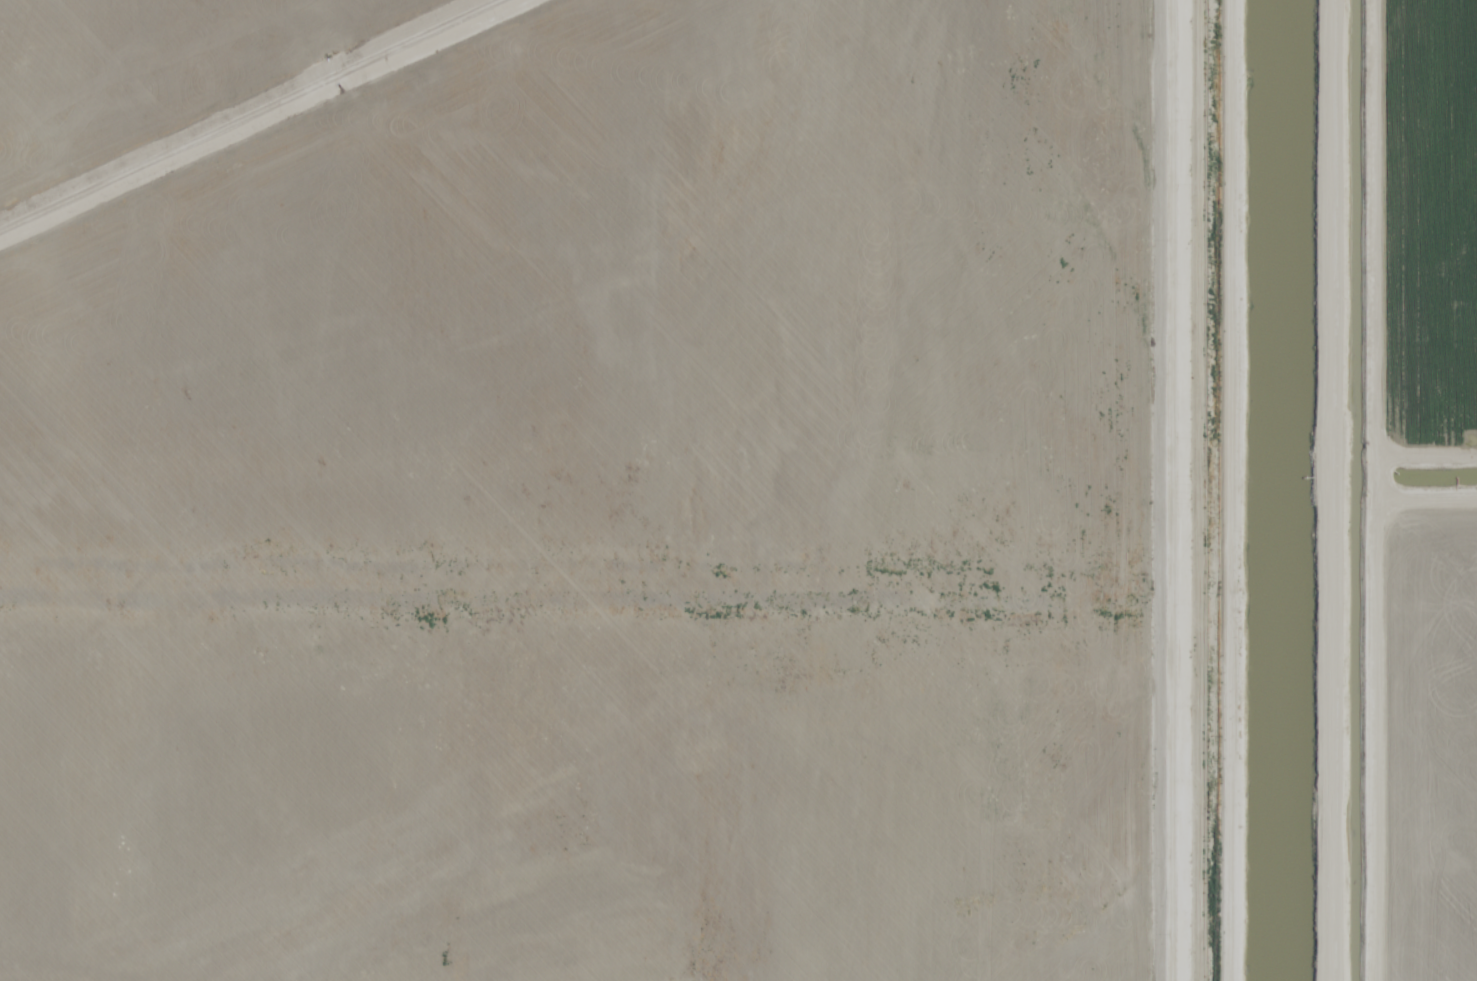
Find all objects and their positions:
road: (1192, 490)
road: (1291, 490)

